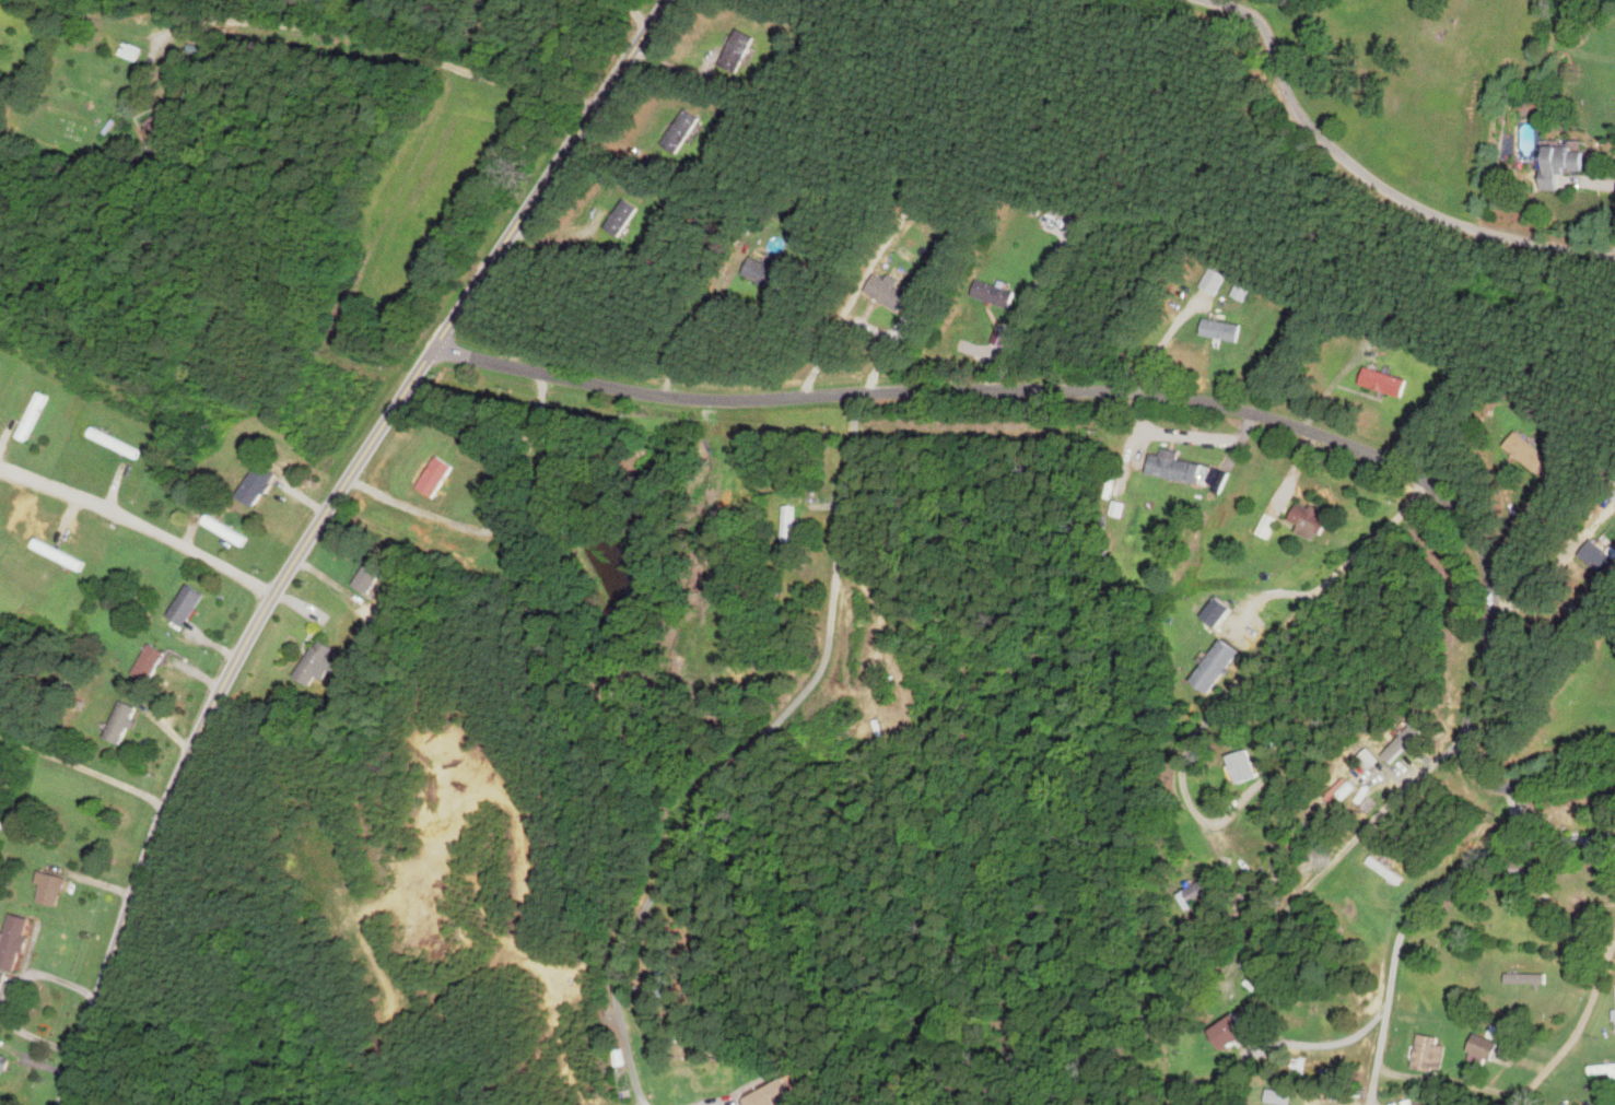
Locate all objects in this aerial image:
road: (640, 11)
road: (377, 36)
building: (134, 50)
building: (741, 51)
building: (686, 130)
building: (163, 131)
building: (1555, 163)
road: (1378, 177)
building: (627, 216)
building: (771, 273)
building: (893, 293)
building: (997, 293)
road: (700, 315)
building: (1226, 329)
building: (1386, 381)
road: (1171, 395)
building: (34, 415)
building: (116, 443)
building: (574, 445)
building: (1528, 455)
building: (1178, 467)
building: (440, 477)
building: (260, 484)
building: (0, 517)
road: (141, 520)
building: (1313, 520)
road: (316, 527)
building: (791, 529)
building: (226, 531)
building: (61, 555)
building: (1596, 559)
building: (373, 576)
building: (189, 604)
road: (1271, 643)
building: (153, 662)
building: (320, 665)
building: (1212, 666)
building: (125, 720)
road: (748, 754)
building: (1378, 762)
building: (1238, 765)
road: (83, 771)
building: (1348, 779)
building: (1587, 840)
road: (1336, 859)
building: (1514, 870)
building: (1385, 873)
building: (55, 890)
building: (1190, 894)
building: (1547, 905)
road: (1405, 924)
building: (16, 942)
building: (668, 973)
building: (1522, 978)
building: (2, 983)
road: (11, 995)
road: (1578, 1024)
building: (1222, 1031)
building: (1478, 1046)
building: (1424, 1053)
building: (1291, 1065)
building: (4, 1068)
building: (1600, 1070)
building: (777, 1094)
building: (1402, 1102)

